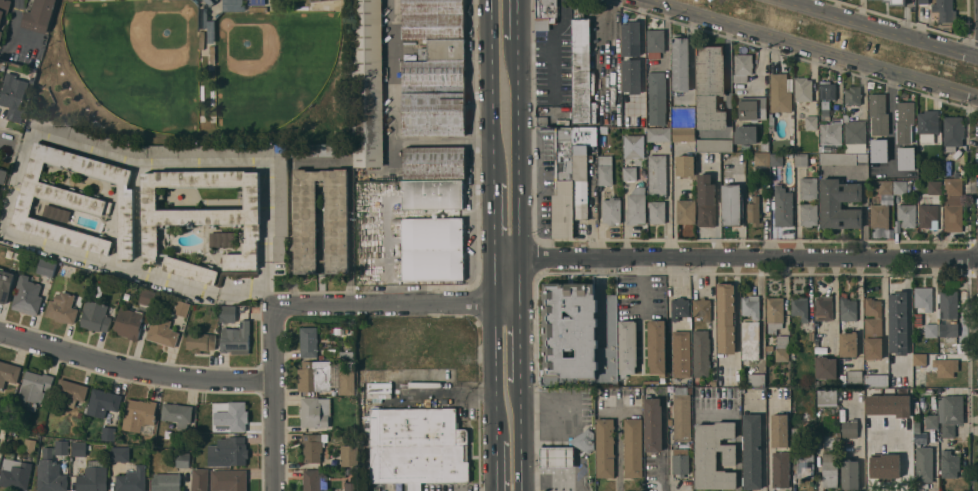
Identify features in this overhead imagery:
building: (923, 1)
building: (211, 2)
building: (256, 2)
building: (896, 2)
building: (233, 5)
building: (4, 7)
building: (258, 9)
building: (945, 10)
building: (546, 12)
building: (39, 15)
building: (203, 18)
road: (517, 20)
road: (880, 28)
building: (1, 32)
road: (15, 32)
building: (211, 32)
road: (603, 37)
building: (631, 38)
building: (202, 40)
building: (435, 41)
building: (655, 43)
road: (810, 49)
road: (536, 50)
road: (554, 51)
building: (212, 55)
road: (642, 60)
building: (680, 63)
building: (580, 66)
building: (742, 67)
park: (201, 69)
building: (631, 76)
building: (367, 83)
road: (391, 83)
building: (710, 87)
building: (803, 89)
building: (828, 90)
road: (491, 91)
building: (780, 93)
building: (657, 94)
building: (853, 95)
building: (14, 96)
building: (752, 108)
building: (433, 110)
building: (878, 114)
building: (683, 116)
building: (928, 121)
building: (542, 122)
building: (905, 122)
building: (811, 123)
building: (830, 133)
building: (953, 133)
building: (659, 134)
building: (683, 134)
building: (745, 134)
building: (855, 136)
road: (442, 139)
road: (7, 144)
building: (713, 145)
building: (634, 146)
building: (764, 146)
building: (774, 148)
road: (20, 149)
building: (321, 149)
building: (879, 150)
building: (906, 158)
building: (761, 159)
building: (776, 159)
building: (844, 159)
building: (801, 160)
building: (434, 162)
road: (147, 164)
building: (685, 166)
building: (582, 168)
building: (605, 170)
road: (518, 172)
building: (629, 173)
building: (956, 174)
building: (2, 175)
building: (657, 176)
road: (17, 182)
building: (564, 185)
building: (884, 186)
building: (903, 187)
building: (934, 187)
building: (808, 188)
building: (432, 194)
building: (280, 196)
road: (668, 200)
building: (75, 201)
building: (706, 201)
building: (839, 204)
building: (732, 205)
building: (636, 206)
building: (783, 206)
building: (952, 206)
building: (611, 211)
building: (686, 211)
road: (267, 212)
building: (656, 212)
building: (754, 212)
building: (56, 213)
building: (808, 214)
building: (879, 215)
building: (907, 215)
building: (928, 216)
building: (201, 218)
road: (137, 219)
road: (494, 223)
building: (336, 229)
building: (222, 238)
building: (432, 249)
road: (736, 260)
road: (389, 261)
road: (107, 265)
building: (46, 267)
building: (234, 274)
road: (267, 284)
building: (5, 285)
road: (641, 289)
road: (240, 292)
building: (27, 295)
building: (127, 296)
building: (147, 297)
building: (923, 299)
road: (601, 300)
building: (948, 300)
road: (393, 306)
building: (750, 306)
building: (62, 308)
building: (181, 308)
building: (679, 308)
building: (702, 308)
building: (799, 308)
building: (823, 308)
building: (847, 308)
road: (761, 312)
building: (226, 313)
building: (774, 314)
building: (95, 316)
building: (726, 318)
road: (884, 319)
building: (128, 323)
building: (898, 323)
building: (873, 329)
building: (948, 329)
building: (931, 330)
building: (162, 331)
building: (339, 331)
building: (577, 336)
building: (236, 339)
building: (750, 340)
building: (200, 341)
building: (309, 342)
building: (848, 343)
road: (519, 344)
building: (949, 344)
building: (627, 347)
building: (656, 347)
building: (770, 348)
building: (782, 348)
road: (495, 352)
building: (681, 353)
building: (701, 353)
building: (346, 355)
building: (919, 359)
building: (826, 367)
building: (945, 367)
road: (134, 369)
building: (8, 373)
building: (325, 377)
building: (855, 377)
building: (921, 378)
building: (756, 379)
building: (662, 380)
building: (876, 380)
building: (696, 382)
building: (713, 383)
building: (33, 389)
building: (377, 390)
building: (867, 391)
building: (69, 393)
road: (447, 396)
building: (827, 397)
road: (273, 401)
building: (103, 402)
building: (882, 403)
building: (315, 411)
building: (138, 414)
building: (177, 414)
building: (681, 414)
building: (950, 414)
building: (237, 416)
building: (931, 422)
building: (653, 424)
building: (906, 428)
building: (849, 429)
building: (108, 433)
building: (798, 433)
building: (917, 434)
road: (564, 435)
road: (520, 436)
building: (584, 440)
road: (768, 441)
building: (29, 445)
road: (618, 445)
building: (312, 446)
building: (417, 446)
building: (61, 447)
building: (605, 447)
building: (633, 447)
building: (79, 448)
building: (881, 450)
building: (752, 451)
building: (780, 451)
building: (228, 452)
building: (119, 453)
building: (349, 455)
building: (714, 455)
building: (557, 457)
building: (182, 460)
building: (680, 461)
building: (805, 462)
building: (924, 464)
building: (949, 464)
road: (496, 466)
building: (885, 467)
building: (830, 470)
building: (50, 473)
building: (15, 474)
road: (664, 474)
building: (849, 474)
building: (93, 477)
building: (200, 479)
building: (132, 480)
building: (229, 480)
building: (311, 480)
building: (166, 481)
road: (538, 483)
building: (351, 486)

